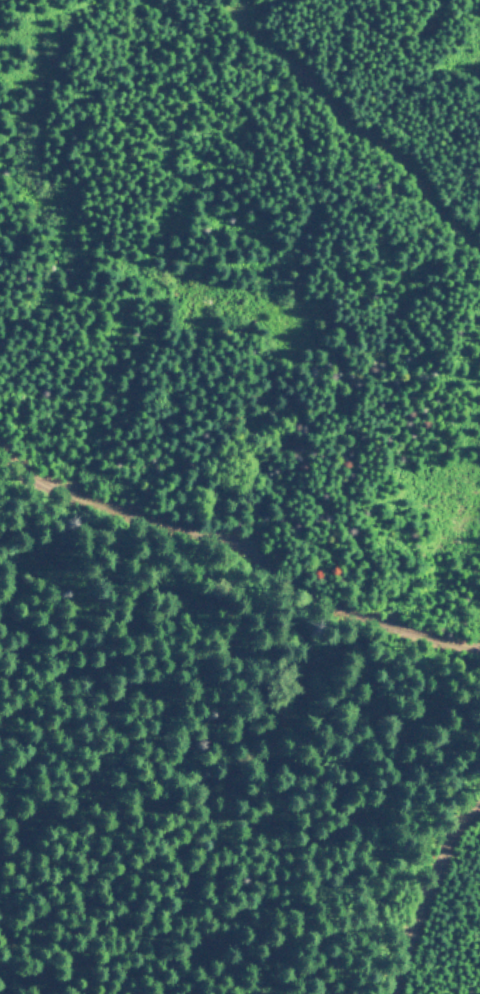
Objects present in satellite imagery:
road: (380, 841)

